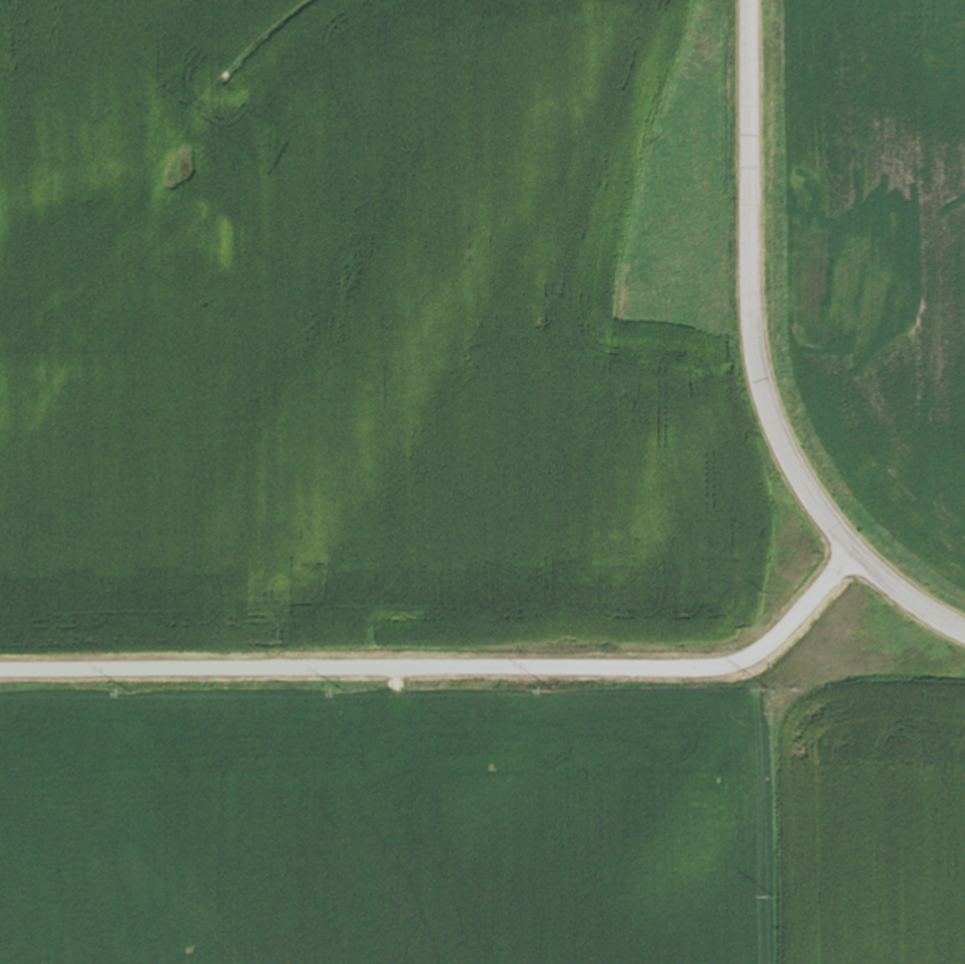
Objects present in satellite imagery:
road: (757, 357)
road: (451, 668)

